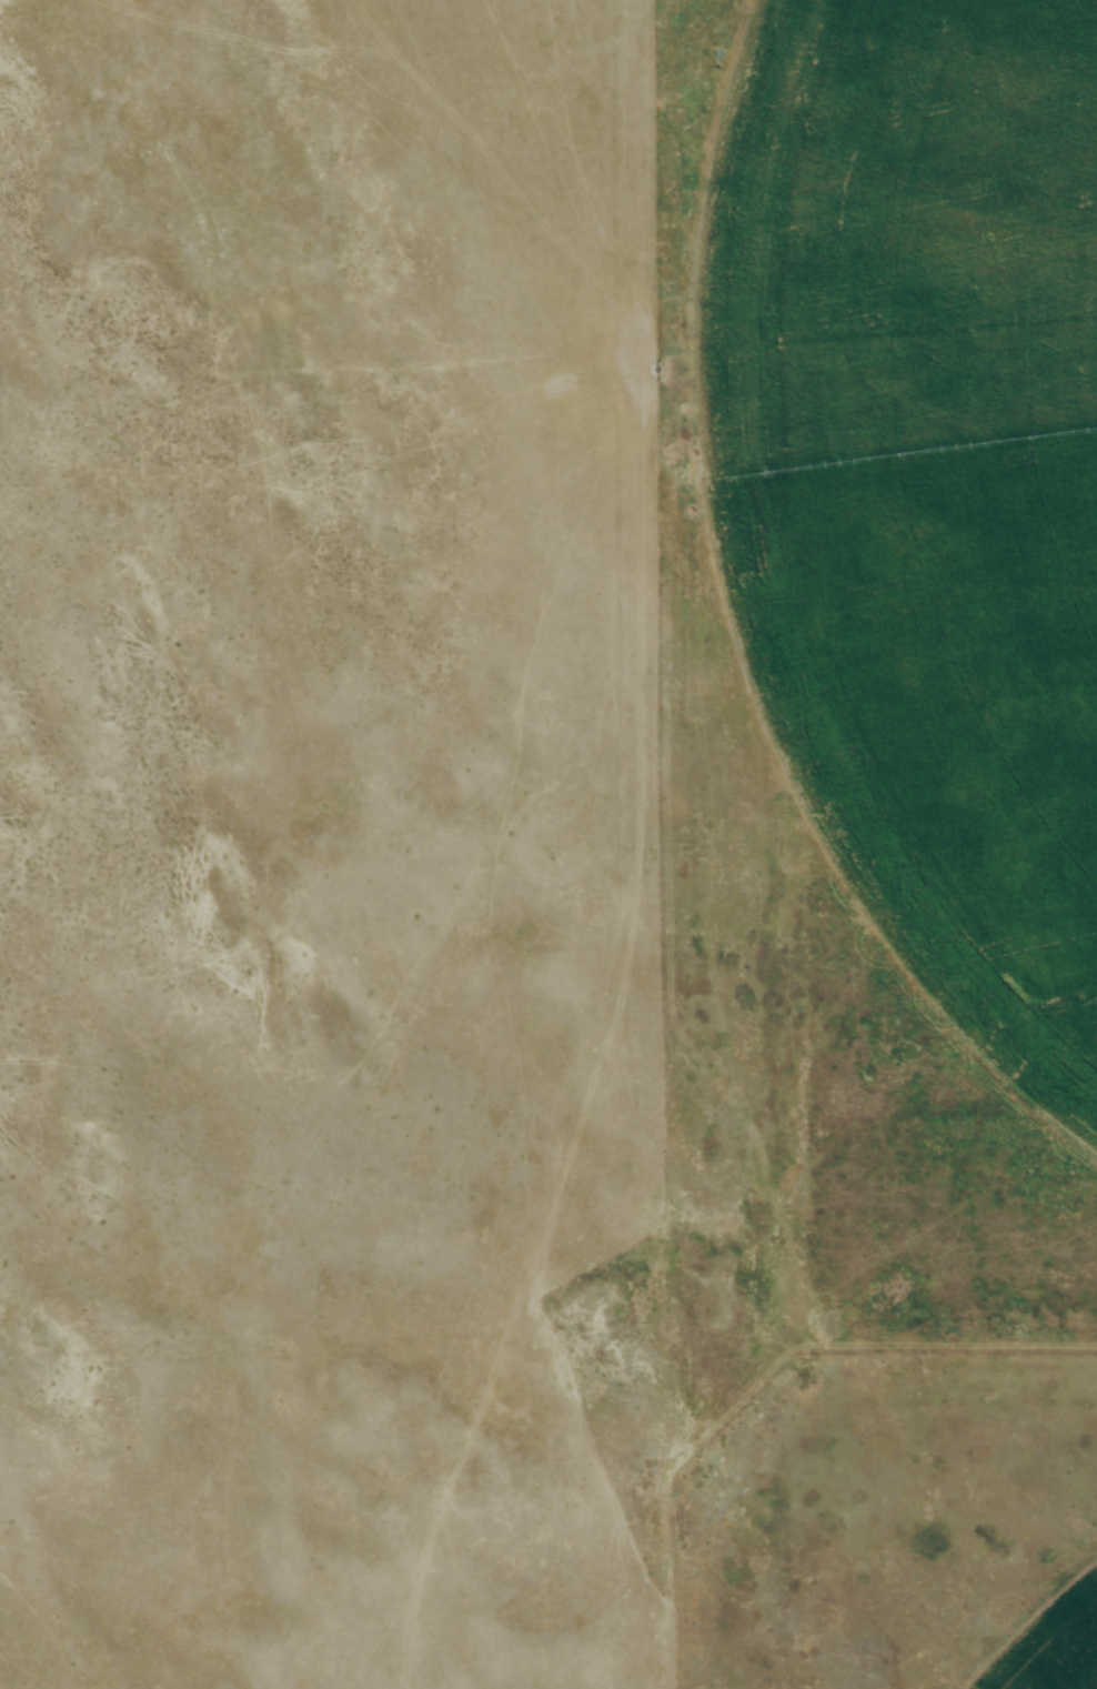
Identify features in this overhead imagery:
crop: (926, 481)
crop: (1054, 1648)

